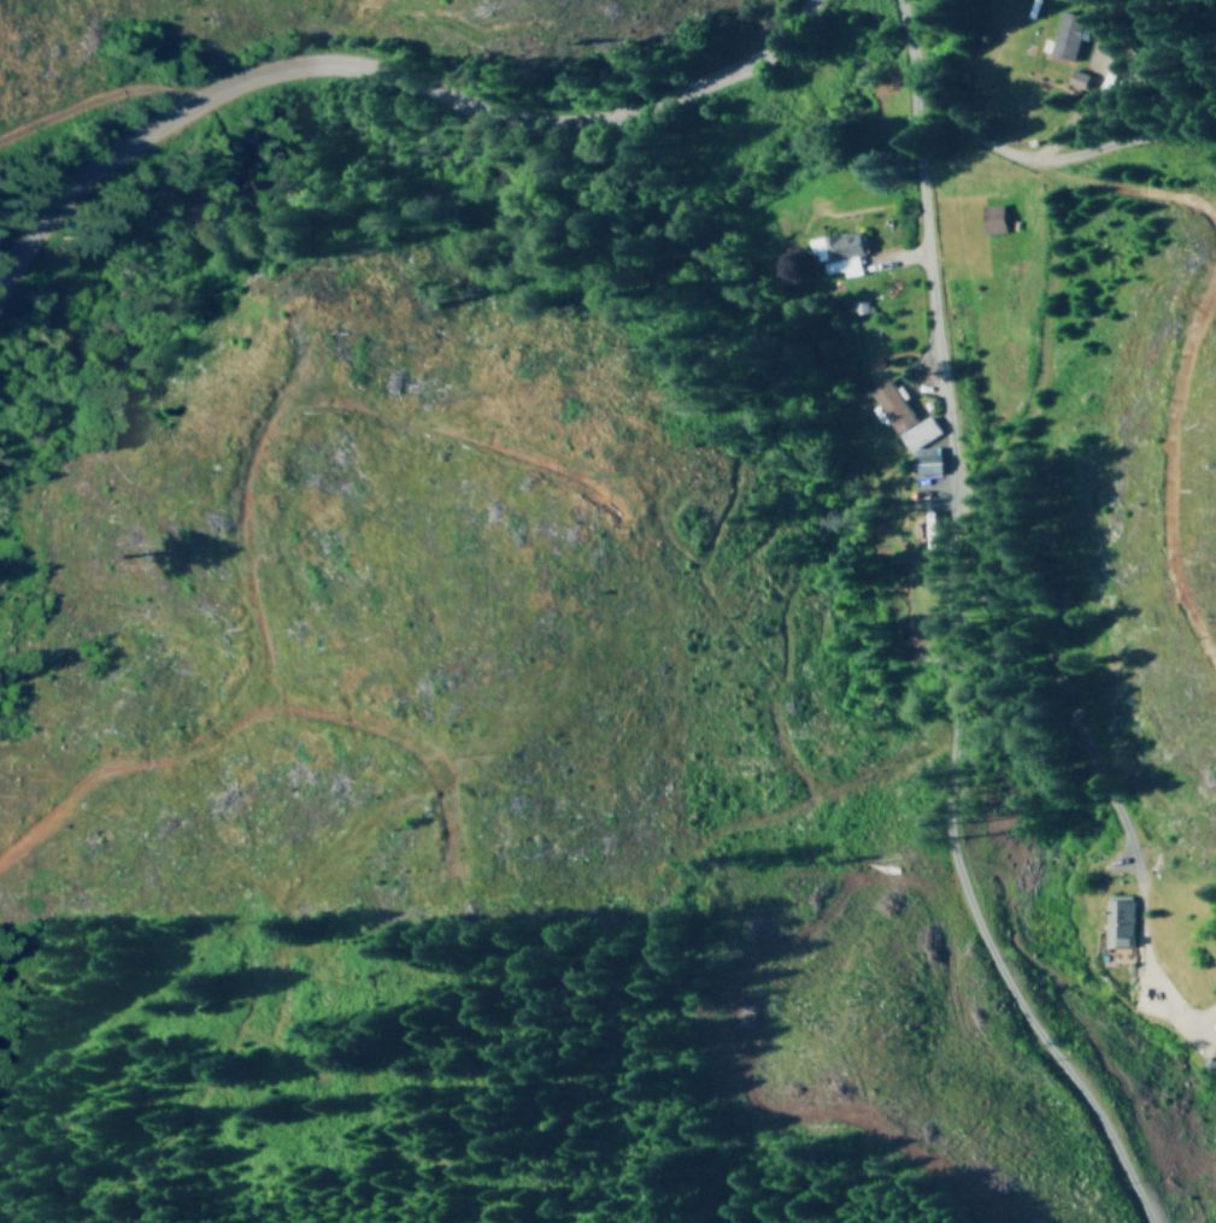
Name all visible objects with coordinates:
building: (1063, 36)
building: (1075, 76)
road: (1044, 160)
building: (988, 218)
road: (447, 228)
building: (835, 251)
building: (889, 406)
building: (920, 446)
road: (893, 624)
building: (1114, 921)
building: (1212, 1023)

